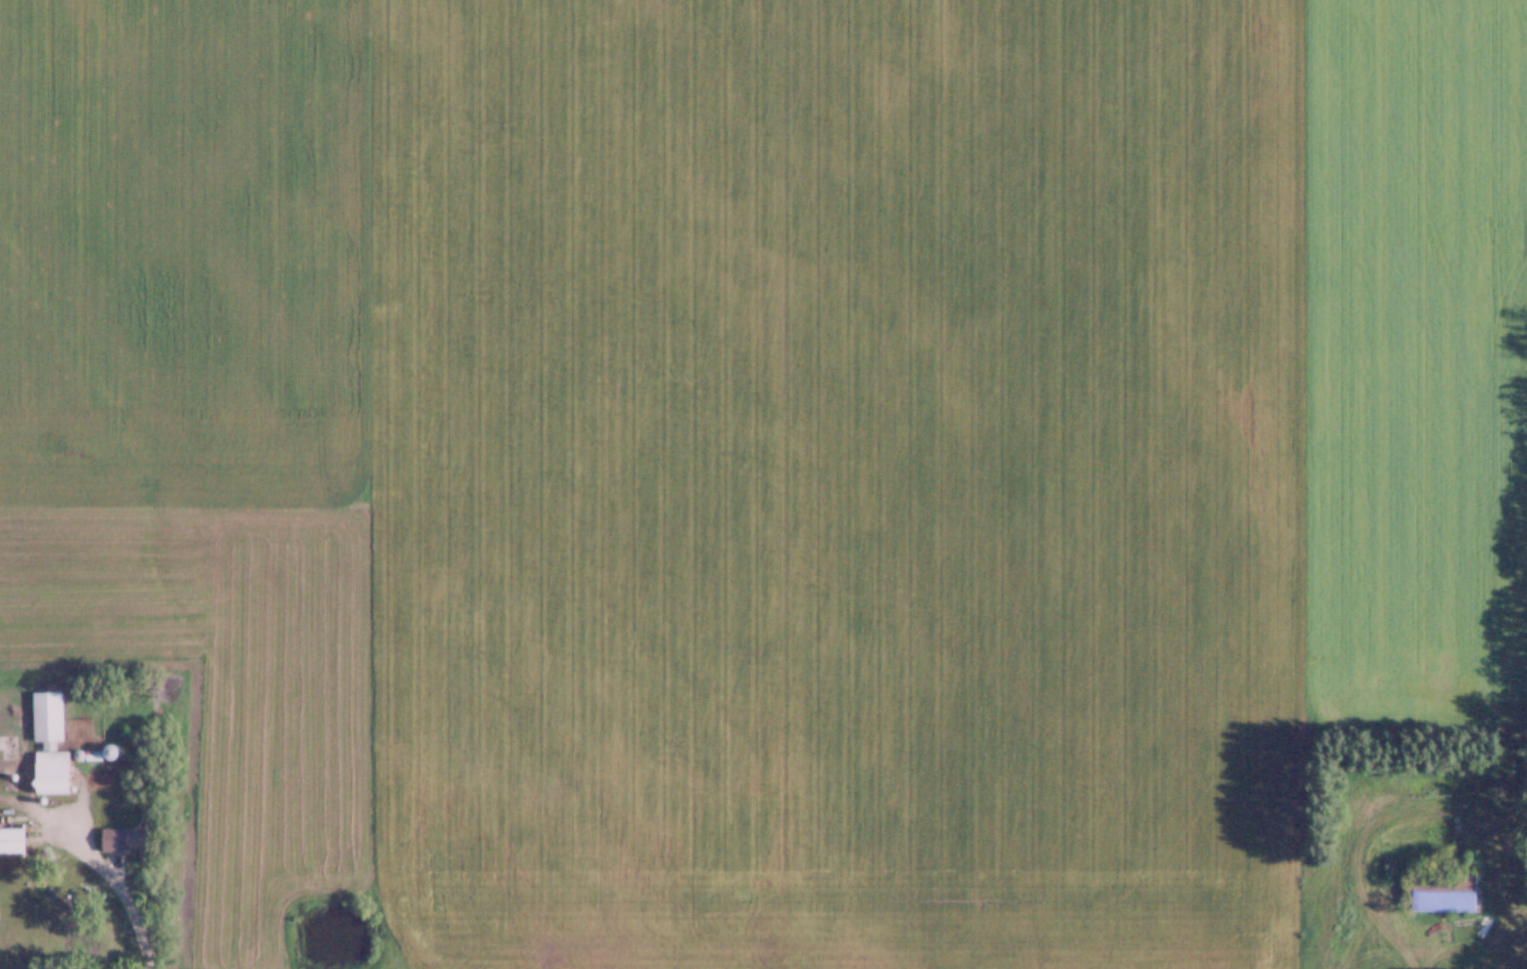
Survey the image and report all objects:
building: (51, 738)
building: (11, 840)
building: (124, 840)
building: (1446, 891)

